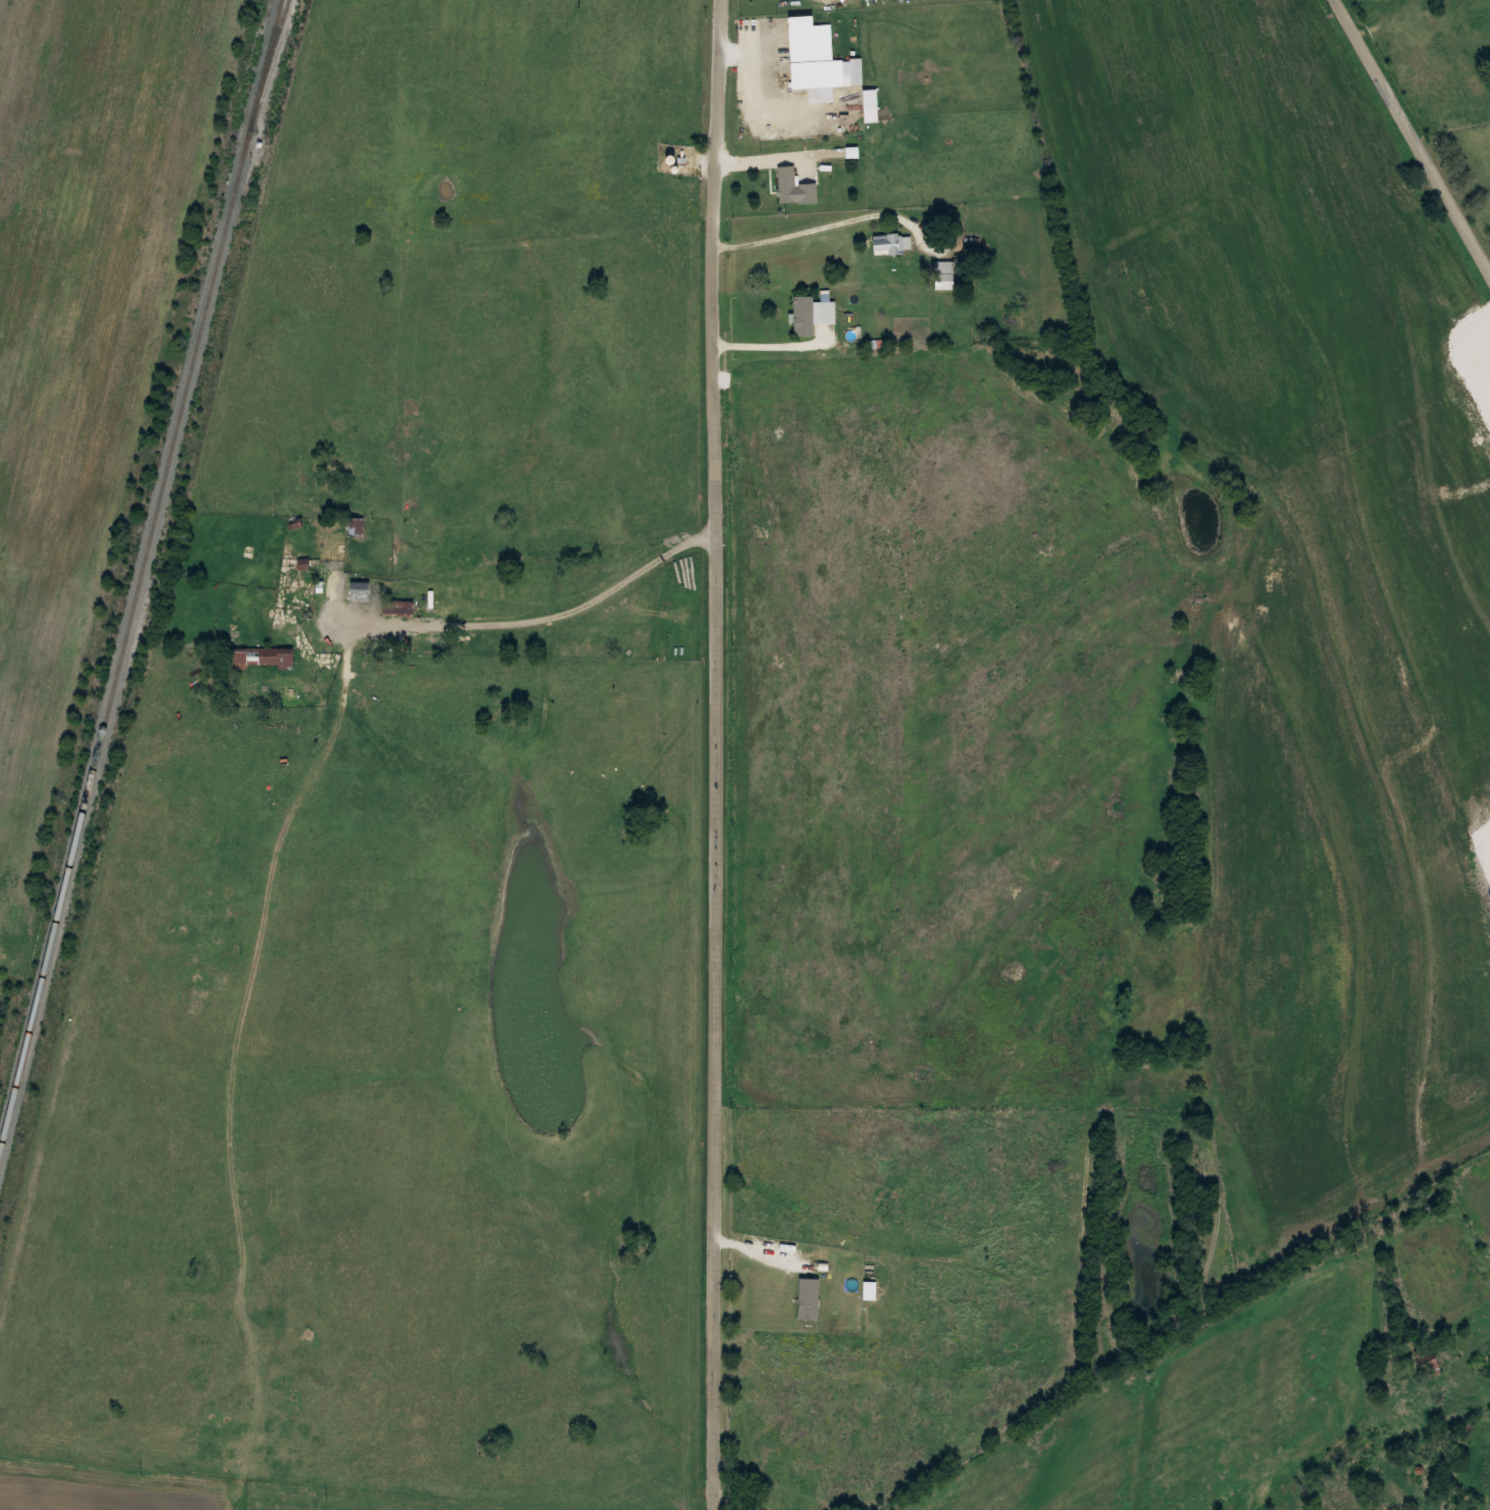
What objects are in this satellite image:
building: (812, 54)
building: (858, 69)
railway: (268, 71)
building: (870, 98)
road: (1411, 137)
building: (795, 187)
building: (891, 242)
building: (943, 273)
building: (812, 313)
crop: (81, 327)
building: (354, 527)
railway: (140, 571)
building: (362, 592)
building: (397, 607)
building: (262, 657)
road: (714, 754)
building: (1430, 1367)

